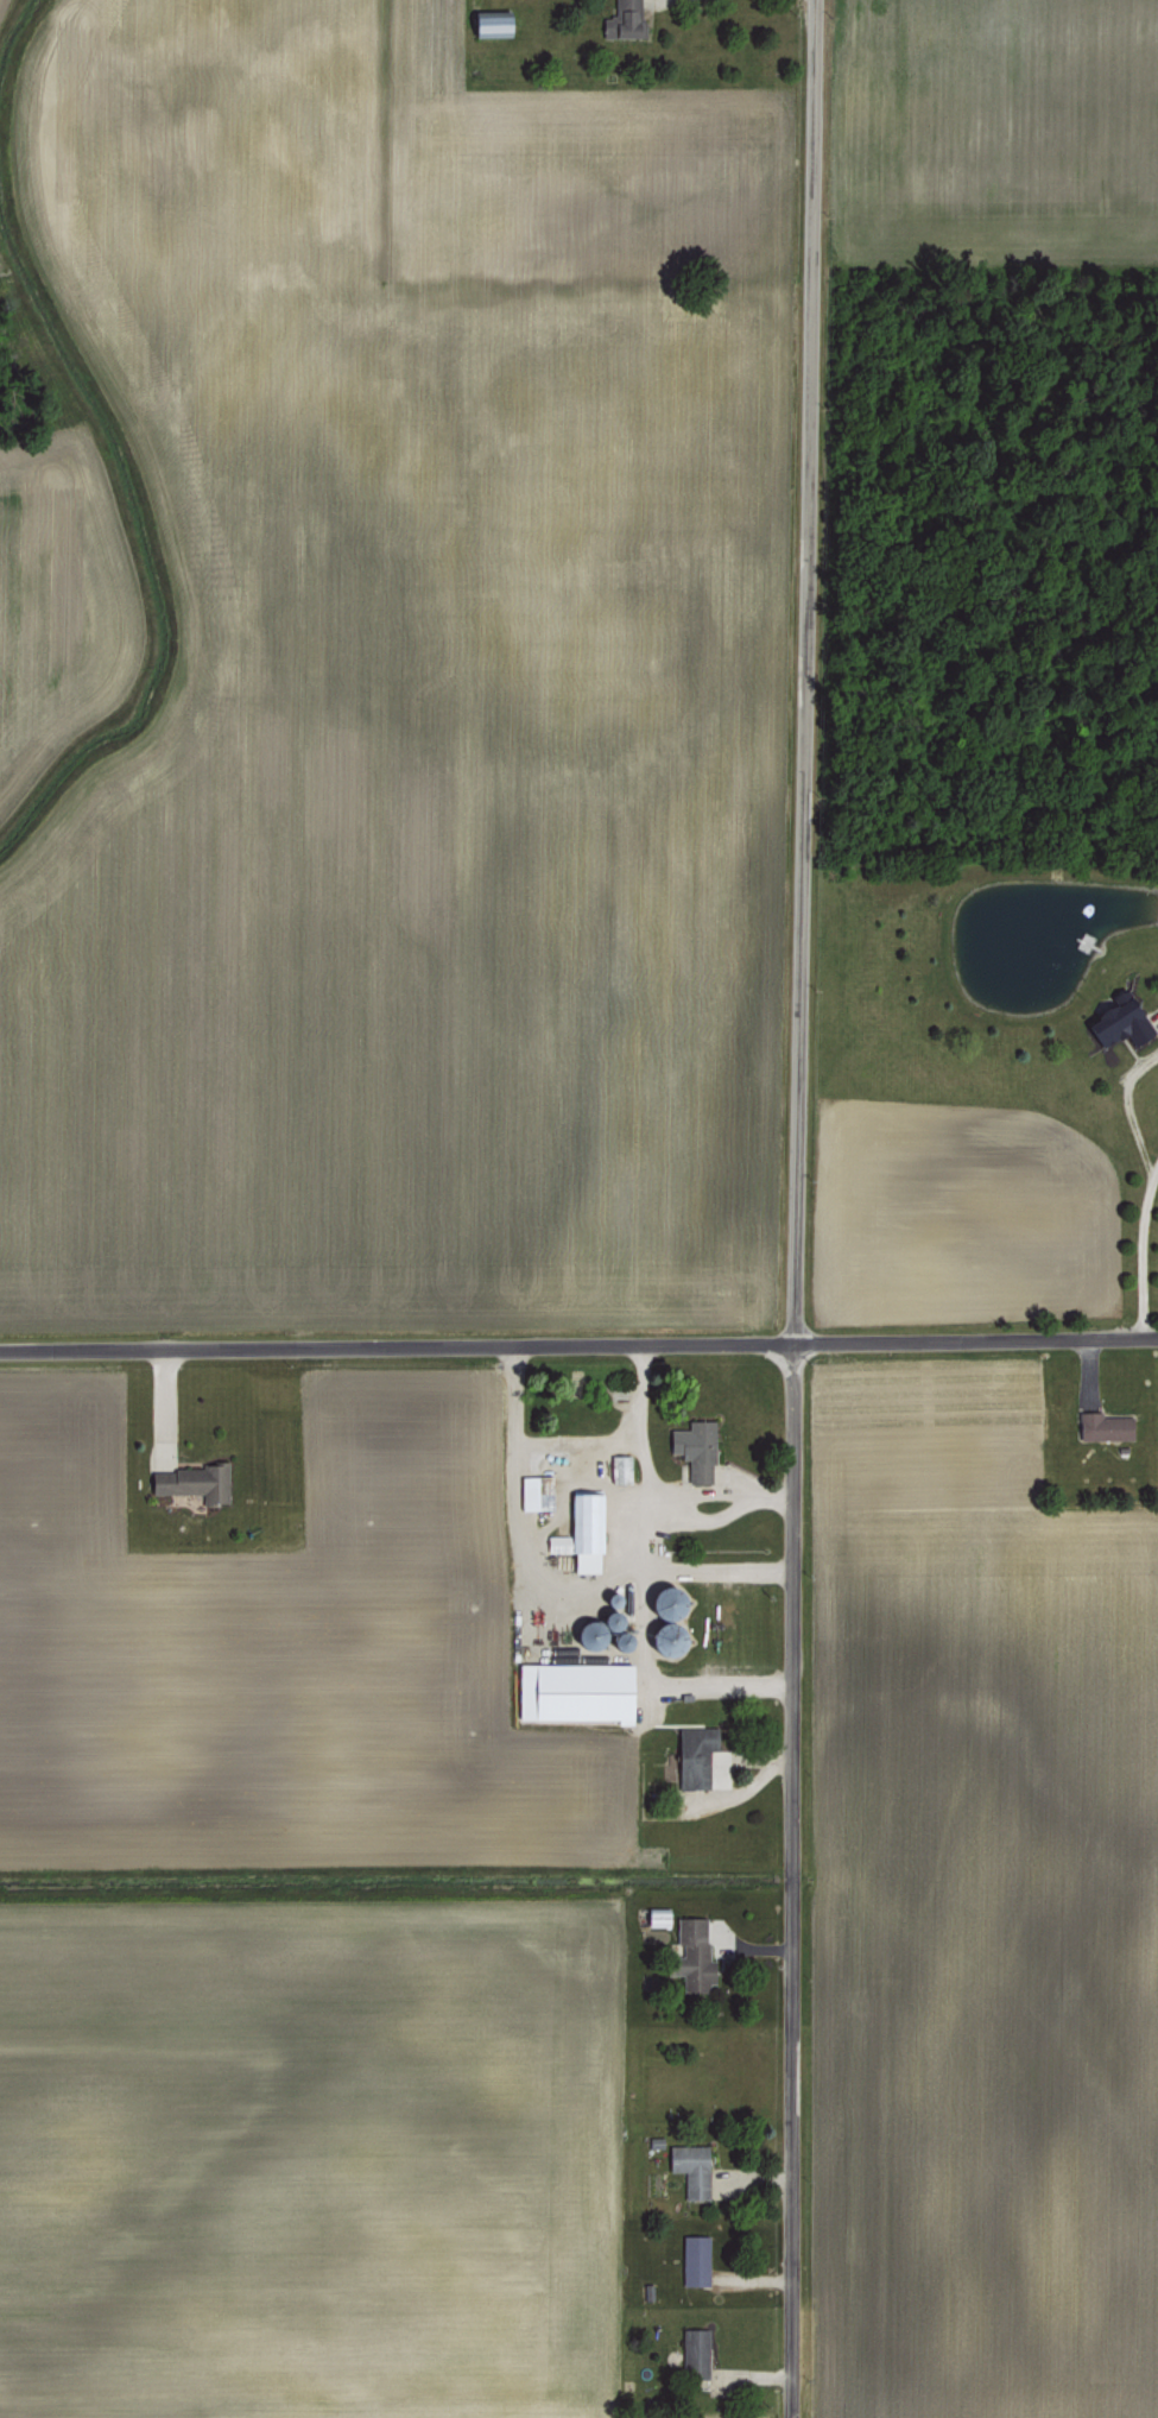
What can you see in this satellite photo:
road: (656, 1)
building: (620, 19)
building: (488, 21)
building: (1114, 1023)
road: (1141, 1206)
road: (792, 1208)
road: (578, 1347)
building: (1102, 1426)
road: (575, 1444)
building: (694, 1448)
building: (619, 1469)
building: (194, 1482)
road: (648, 1489)
building: (534, 1492)
building: (580, 1530)
road: (552, 1573)
road: (643, 1656)
building: (572, 1686)
building: (692, 1754)
building: (656, 1915)
crop: (977, 1918)
building: (691, 1953)
building: (690, 2167)
building: (694, 2259)
building: (692, 2350)
building: (724, 2379)

